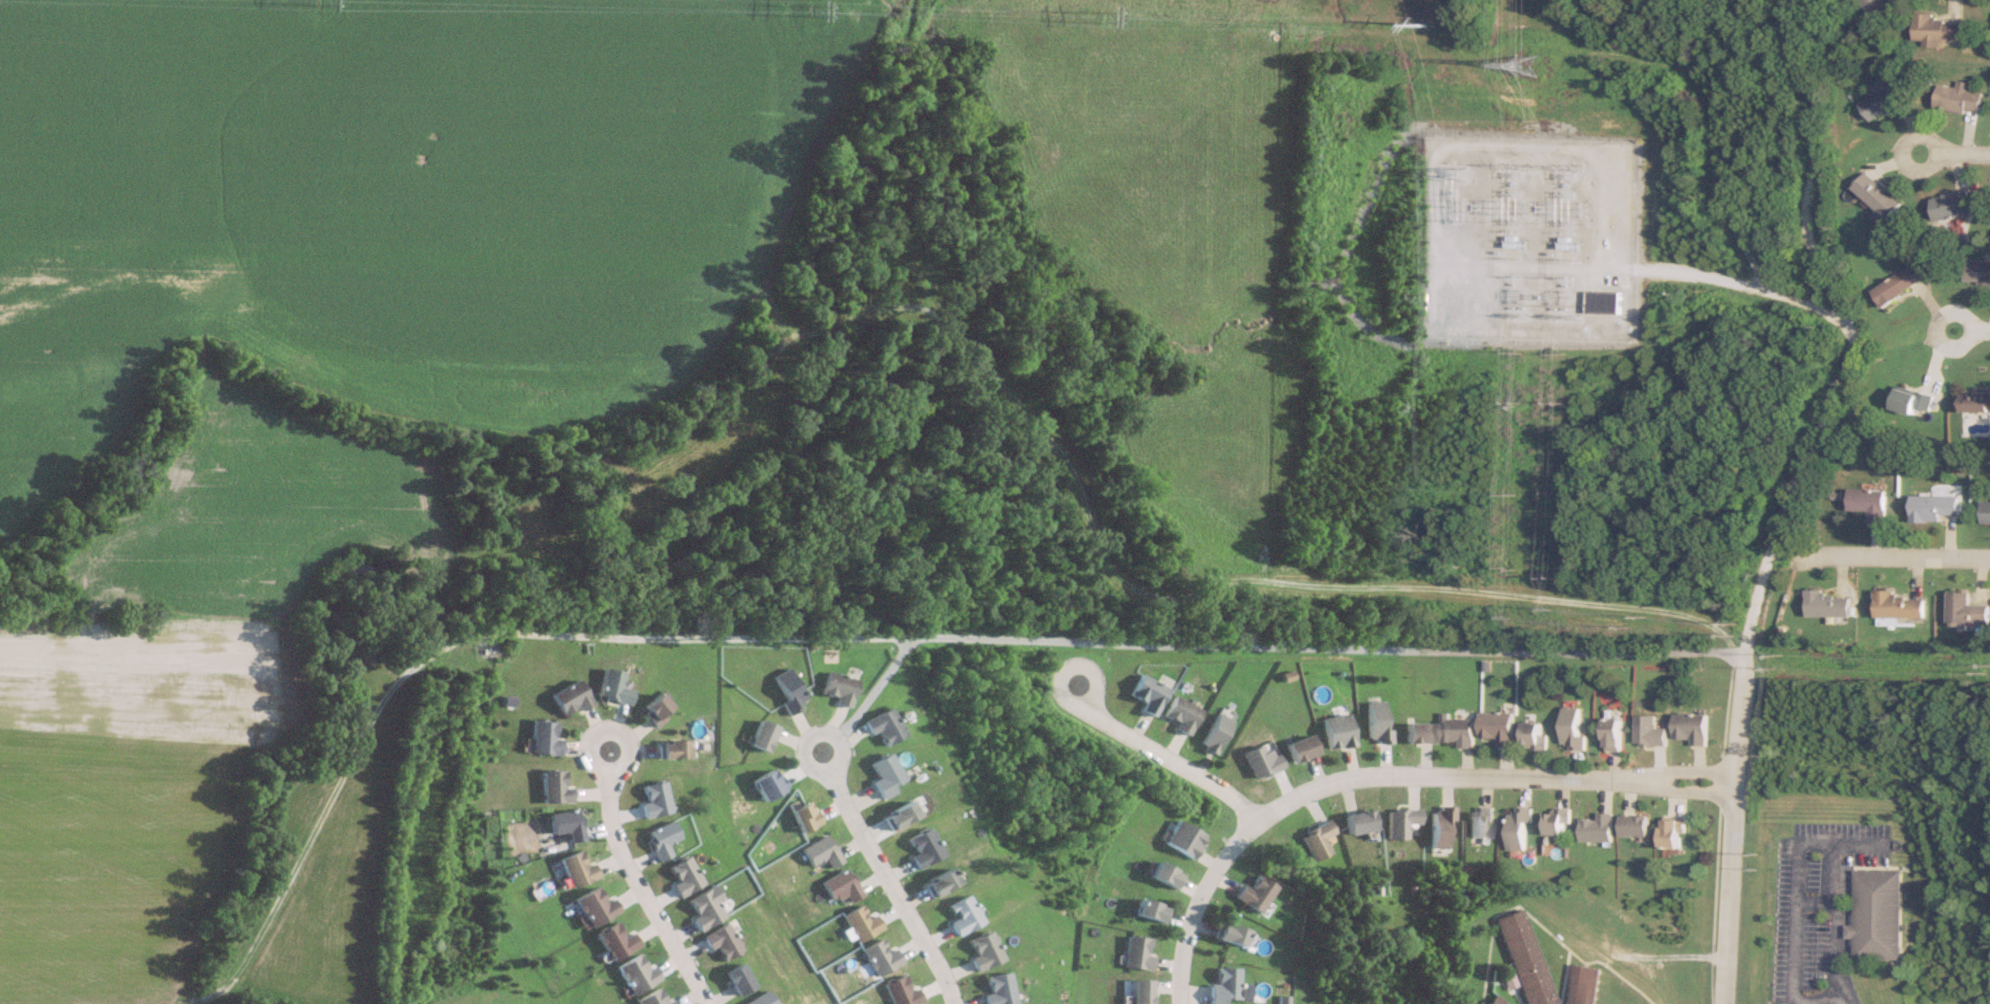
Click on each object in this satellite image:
building: (1878, 7)
building: (1989, 27)
building: (1936, 29)
power tower: (1524, 64)
building: (1958, 97)
building: (1883, 98)
road: (1953, 153)
road: (1811, 160)
building: (1877, 196)
crop: (390, 204)
building: (1950, 204)
power substation: (1526, 234)
building: (1977, 270)
building: (1898, 284)
building: (1601, 302)
road: (1972, 328)
building: (1911, 400)
building: (1976, 401)
building: (1868, 503)
building: (1931, 507)
building: (1985, 513)
crop: (258, 518)
road: (1893, 556)
building: (1824, 604)
building: (1897, 605)
building: (1964, 610)
road: (1253, 645)
road: (1743, 652)
building: (610, 688)
building: (836, 688)
building: (786, 691)
building: (1145, 695)
building: (567, 699)
building: (652, 711)
building: (1178, 715)
building: (1375, 724)
building: (881, 727)
building: (1496, 727)
building: (1691, 728)
building: (1571, 730)
building: (1335, 731)
building: (1456, 731)
building: (1211, 733)
building: (1416, 733)
building: (1612, 735)
building: (1533, 736)
building: (541, 739)
building: (1297, 749)
building: (670, 750)
road: (1158, 751)
road: (1386, 777)
building: (766, 785)
building: (552, 789)
crop: (125, 797)
building: (897, 816)
building: (1555, 821)
building: (1356, 822)
building: (1478, 822)
building: (1634, 826)
building: (1439, 827)
building: (1516, 827)
building: (1671, 833)
building: (1179, 839)
building: (1314, 840)
building: (574, 869)
building: (1160, 875)
road: (890, 878)
building: (937, 883)
road: (635, 885)
building: (1252, 893)
road: (1833, 902)
building: (592, 907)
road: (1797, 910)
building: (1147, 911)
building: (1873, 914)
building: (1226, 934)
building: (723, 941)
building: (1522, 958)
building: (738, 979)
building: (1579, 984)
building: (1223, 986)
building: (761, 999)
building: (1490, 1000)
road: (1830, 1000)

